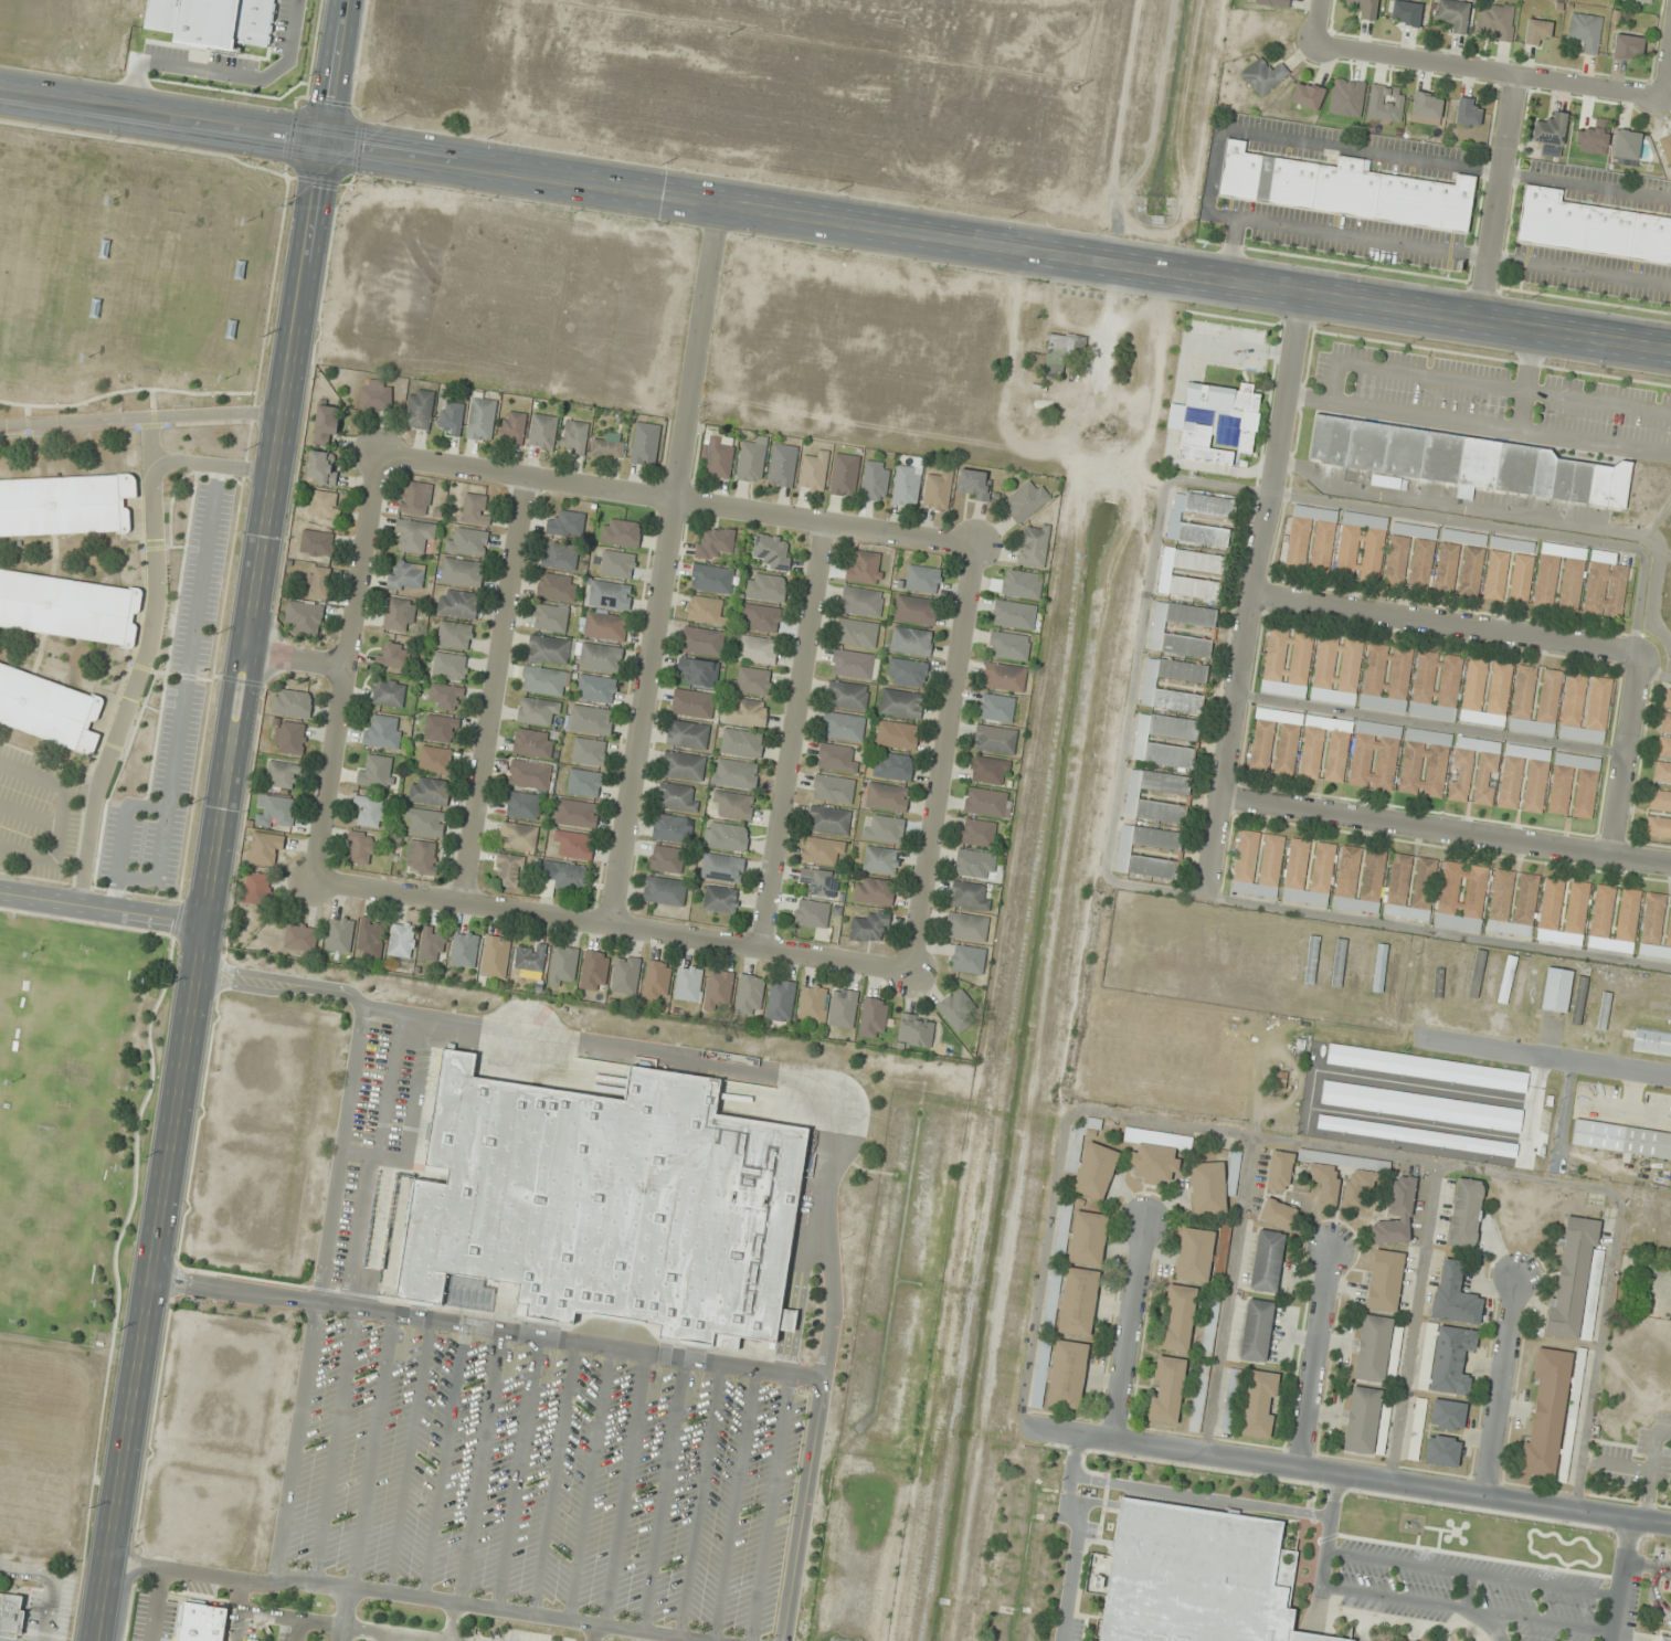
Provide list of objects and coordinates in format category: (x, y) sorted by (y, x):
building: (1642, 1)
building: (1272, 2)
building: (1364, 8)
building: (1406, 13)
building: (1453, 15)
building: (1495, 21)
road: (1319, 23)
building: (1537, 31)
building: (1586, 31)
building: (1628, 46)
road: (1665, 64)
road: (1488, 71)
building: (1263, 76)
building: (1307, 95)
building: (1386, 103)
building: (1427, 107)
building: (1468, 113)
building: (1551, 134)
traffic signals: (329, 142)
building: (1627, 145)
building: (1342, 189)
road: (1500, 198)
road: (835, 221)
building: (1590, 229)
park: (31, 264)
park: (171, 277)
park: (127, 278)
road: (1109, 306)
road: (1160, 322)
building: (1056, 354)
road: (126, 390)
building: (376, 395)
road: (1078, 396)
road: (1156, 400)
road: (1118, 402)
building: (420, 409)
road: (142, 416)
building: (451, 417)
building: (482, 417)
building: (326, 423)
building: (512, 427)
building: (1198, 430)
building: (543, 432)
building: (575, 437)
building: (645, 444)
building: (609, 446)
building: (718, 455)
building: (752, 460)
building: (1467, 462)
road: (214, 465)
building: (783, 465)
building: (322, 467)
building: (814, 472)
building: (845, 474)
building: (876, 480)
building: (974, 484)
building: (907, 485)
building: (939, 490)
building: (415, 497)
road: (678, 499)
building: (1026, 500)
building: (326, 504)
building: (65, 505)
building: (476, 508)
building: (1175, 519)
building: (567, 525)
road: (1505, 528)
building: (621, 532)
building: (414, 536)
building: (1463, 537)
building: (1312, 539)
building: (317, 542)
building: (467, 542)
building: (715, 542)
building: (1034, 546)
building: (1362, 546)
building: (773, 551)
building: (560, 557)
building: (1424, 559)
road: (667, 563)
building: (617, 564)
building: (1519, 565)
building: (865, 567)
building: (1447, 567)
building: (1472, 571)
building: (462, 572)
building: (1191, 573)
building: (1497, 574)
building: (406, 576)
building: (1559, 576)
building: (712, 579)
building: (922, 579)
building: (319, 582)
building: (1019, 584)
building: (1606, 585)
building: (557, 586)
building: (766, 586)
road: (1248, 592)
building: (609, 594)
building: (861, 602)
building: (457, 603)
building: (68, 607)
building: (705, 610)
building: (916, 610)
building: (399, 613)
building: (1014, 614)
building: (304, 616)
building: (550, 616)
building: (761, 617)
road: (1442, 622)
building: (603, 625)
building: (1159, 629)
building: (857, 632)
building: (454, 635)
building: (702, 640)
building: (911, 640)
building: (1009, 646)
building: (755, 648)
building: (549, 649)
building: (394, 655)
building: (599, 657)
road: (296, 661)
road: (141, 663)
building: (1288, 663)
building: (853, 664)
road: (343, 666)
building: (450, 666)
building: (1337, 670)
building: (698, 671)
building: (908, 673)
building: (1004, 677)
building: (1387, 678)
building: (543, 680)
building: (751, 681)
building: (1150, 686)
building: (1437, 686)
building: (596, 688)
road: (498, 689)
road: (186, 691)
building: (388, 692)
building: (1487, 692)
building: (847, 695)
building: (1524, 695)
building: (446, 696)
building: (1668, 699)
building: (293, 702)
building: (694, 703)
building: (901, 703)
building: (997, 708)
building: (1586, 708)
building: (47, 709)
building: (539, 711)
parking lot: (173, 712)
building: (748, 712)
building: (590, 720)
building: (1667, 722)
building: (844, 727)
building: (441, 729)
building: (383, 731)
building: (687, 734)
road: (796, 734)
building: (898, 734)
building: (289, 738)
building: (1185, 738)
building: (995, 739)
building: (1276, 741)
building: (742, 742)
building: (533, 743)
building: (1664, 749)
building: (589, 751)
road: (1622, 752)
building: (1337, 753)
building: (1375, 755)
building: (837, 758)
building: (436, 760)
road: (946, 760)
building: (1425, 763)
building: (684, 765)
building: (893, 766)
building: (990, 770)
building: (377, 771)
building: (1474, 771)
building: (1662, 772)
building: (734, 773)
building: (283, 774)
building: (530, 774)
building: (1524, 777)
building: (584, 783)
building: (1574, 785)
building: (834, 788)
building: (430, 791)
building: (887, 796)
building: (1132, 796)
building: (676, 797)
building: (1660, 801)
building: (987, 802)
building: (522, 805)
building: (732, 805)
building: (276, 812)
building: (371, 812)
building: (577, 813)
parking lot: (35, 814)
road: (31, 816)
road: (64, 817)
road: (219, 819)
building: (828, 819)
building: (425, 822)
building: (1659, 827)
building: (673, 828)
building: (885, 828)
road: (1446, 828)
building: (977, 833)
building: (518, 836)
building: (727, 836)
road: (123, 837)
building: (575, 844)
building: (361, 847)
building: (266, 848)
building: (823, 851)
building: (1124, 853)
building: (422, 856)
building: (666, 859)
building: (881, 859)
building: (975, 864)
building: (1258, 864)
building: (723, 868)
building: (509, 869)
building: (1309, 871)
building: (568, 876)
building: (1361, 879)
building: (822, 881)
road: (1141, 886)
building: (1411, 887)
building: (257, 888)
building: (665, 890)
building: (875, 890)
building: (970, 896)
building: (1462, 896)
building: (721, 899)
building: (1513, 902)
road: (99, 907)
building: (1564, 911)
building: (812, 913)
building: (1615, 919)
road: (616, 922)
building: (871, 927)
building: (967, 927)
building: (1656, 928)
building: (340, 934)
building: (302, 936)
building: (370, 938)
building: (402, 940)
building: (433, 943)
building: (465, 949)
building: (495, 956)
building: (969, 959)
building: (530, 962)
building: (1324, 962)
building: (1345, 963)
building: (563, 965)
building: (1366, 966)
building: (1379, 967)
building: (595, 970)
building: (1406, 971)
building: (1425, 972)
building: (625, 976)
building: (1466, 978)
building: (657, 980)
building: (1492, 980)
building: (1505, 982)
building: (688, 983)
building: (1520, 983)
park: (7, 985)
building: (719, 989)
building: (1557, 989)
building: (750, 994)
building: (781, 1001)
building: (814, 1004)
building: (844, 1007)
building: (1604, 1008)
building: (958, 1009)
building: (1656, 1013)
building: (874, 1017)
park: (74, 1026)
building: (917, 1030)
building: (1652, 1040)
building: (1597, 1044)
road: (648, 1049)
road: (1548, 1057)
building: (1427, 1068)
building: (1280, 1079)
road: (389, 1084)
park: (70, 1095)
building: (1421, 1107)
road: (410, 1119)
building: (1093, 1123)
building: (1417, 1135)
building: (1621, 1139)
road: (1337, 1147)
building: (1156, 1153)
building: (1096, 1171)
building: (1280, 1171)
building: (1334, 1171)
building: (1358, 1186)
building: (1208, 1188)
building: (607, 1201)
building: (1279, 1214)
building: (1466, 1214)
building: (1396, 1215)
park: (45, 1220)
road: (357, 1231)
building: (1088, 1238)
building: (1195, 1254)
building: (1268, 1261)
road: (800, 1263)
building: (1385, 1280)
building: (1576, 1280)
road: (319, 1293)
road: (1228, 1294)
building: (1455, 1294)
building: (1079, 1302)
building: (1178, 1319)
road: (1413, 1322)
road: (486, 1326)
building: (1210, 1327)
building: (1257, 1330)
road: (1125, 1333)
building: (1373, 1348)
road: (1313, 1358)
building: (1452, 1359)
building: (1068, 1375)
road: (1500, 1387)
building: (1167, 1389)
building: (1199, 1398)
building: (1230, 1401)
building: (1259, 1404)
building: (1546, 1411)
building: (1448, 1415)
building: (1363, 1420)
building: (1417, 1429)
road: (334, 1444)
road: (372, 1450)
building: (1442, 1450)
road: (408, 1455)
road: (443, 1461)
road: (1616, 1465)
road: (480, 1467)
road: (1651, 1470)
road: (518, 1473)
road: (1356, 1476)
road: (554, 1479)
road: (589, 1484)
road: (625, 1490)
road: (662, 1495)
road: (1201, 1496)
road: (698, 1501)
road: (733, 1505)
road: (769, 1507)
road: (803, 1511)
road: (1076, 1537)
road: (1325, 1554)
road: (1647, 1565)
road: (25, 1571)
road: (1472, 1573)
building: (1197, 1576)
road: (1620, 1579)
parking lot: (1468, 1591)
road: (399, 1595)
road: (1653, 1596)
road: (197, 1599)
road: (155, 1605)
road: (1467, 1608)
road: (46, 1609)
road: (1471, 1610)
building: (10, 1614)
road: (343, 1614)
building: (201, 1621)
road: (320, 1622)
road: (451, 1622)
road: (233, 1624)
road: (297, 1630)
road: (596, 1633)
road: (385, 1637)
road: (1313, 1637)
building: (1664, 1638)
road: (1624, 1639)

